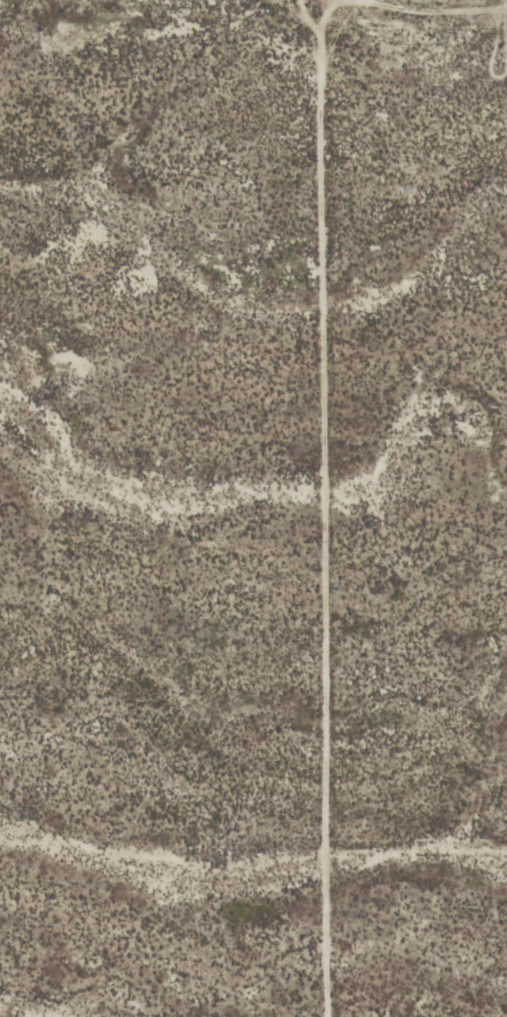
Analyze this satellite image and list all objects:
road: (321, 506)

